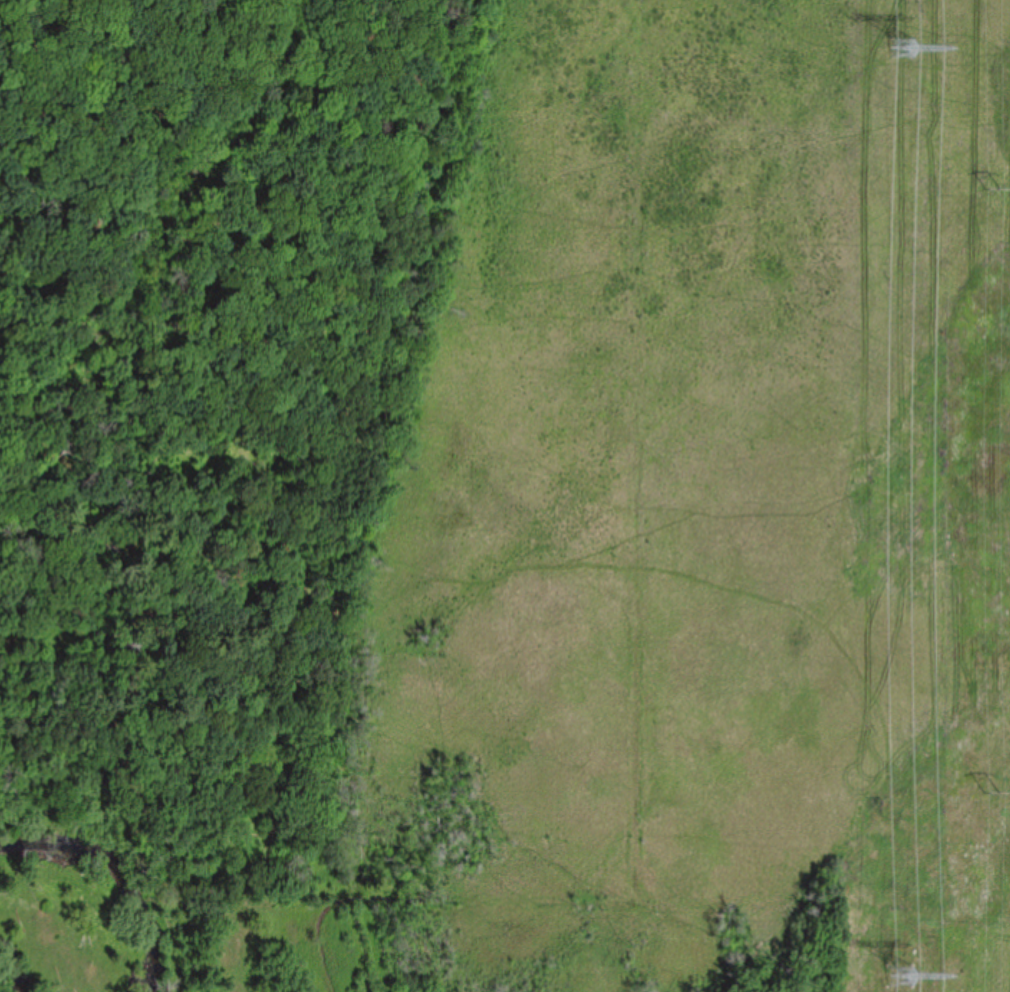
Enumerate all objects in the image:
power tower: (903, 64)
power tower: (995, 191)
power tower: (994, 794)
power tower: (902, 978)

